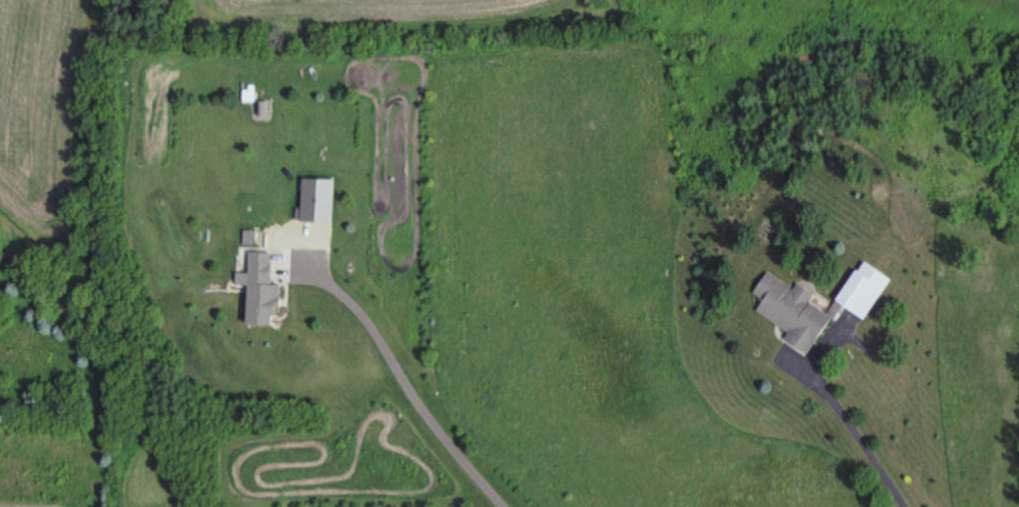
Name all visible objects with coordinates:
building: (261, 109)
building: (322, 206)
building: (265, 296)
building: (868, 296)
building: (796, 318)
road: (406, 385)
road: (865, 442)

